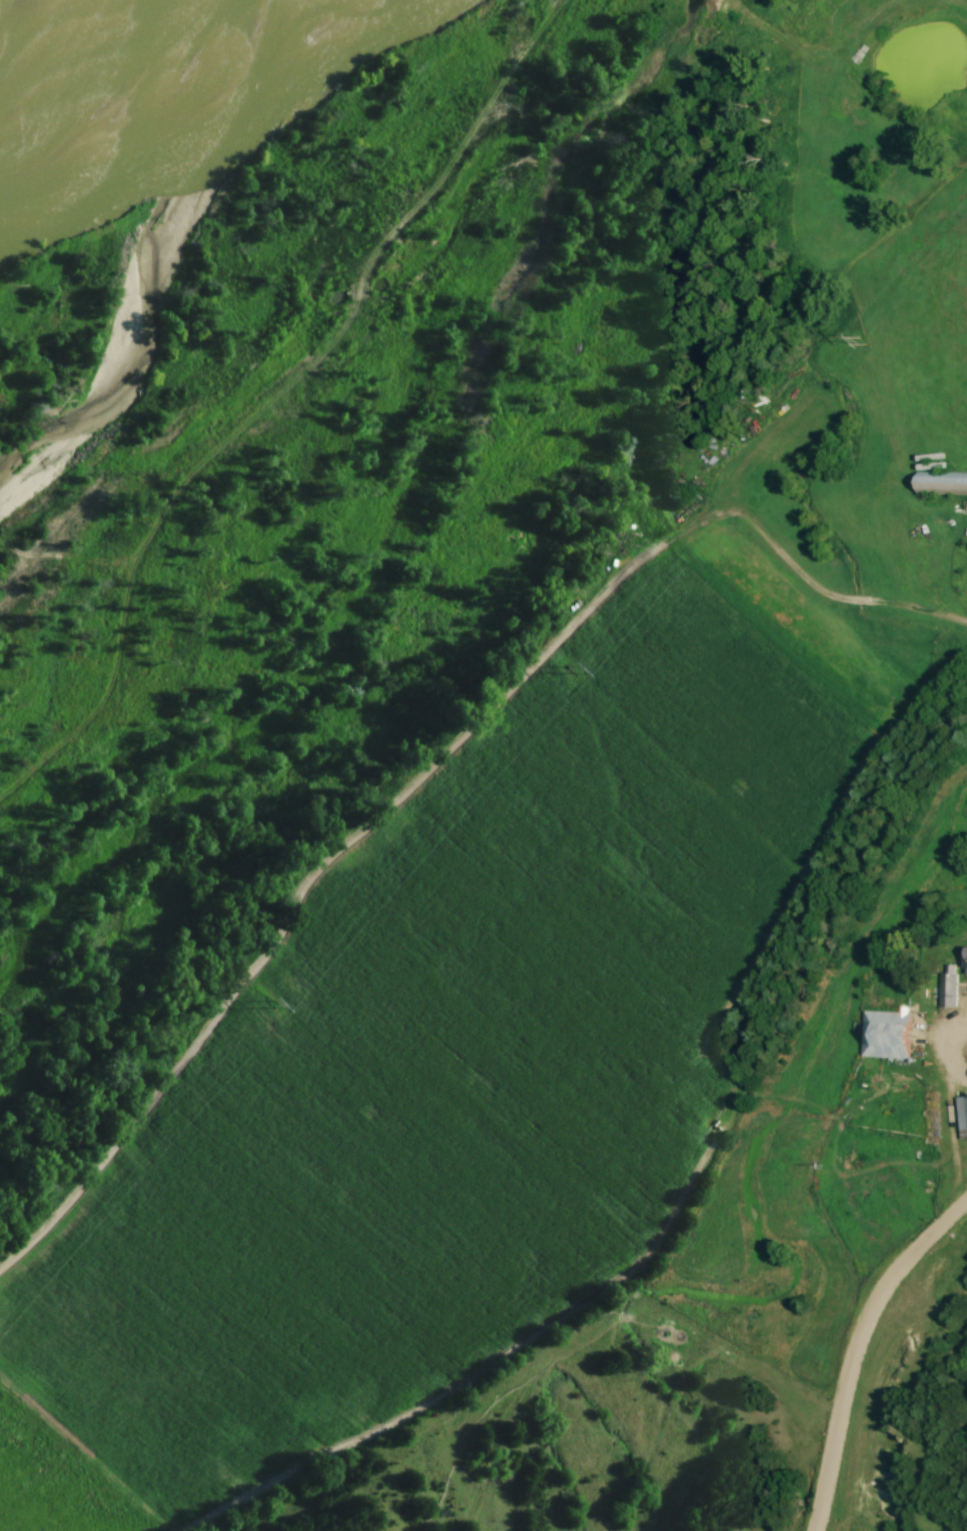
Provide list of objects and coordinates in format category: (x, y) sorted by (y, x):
power tower: (861, 340)
building: (940, 483)
building: (671, 493)
power tower: (569, 670)
building: (964, 960)
building: (947, 980)
power tower: (271, 1005)
building: (884, 1033)
building: (961, 1116)
road: (949, 1122)
road: (856, 1352)

